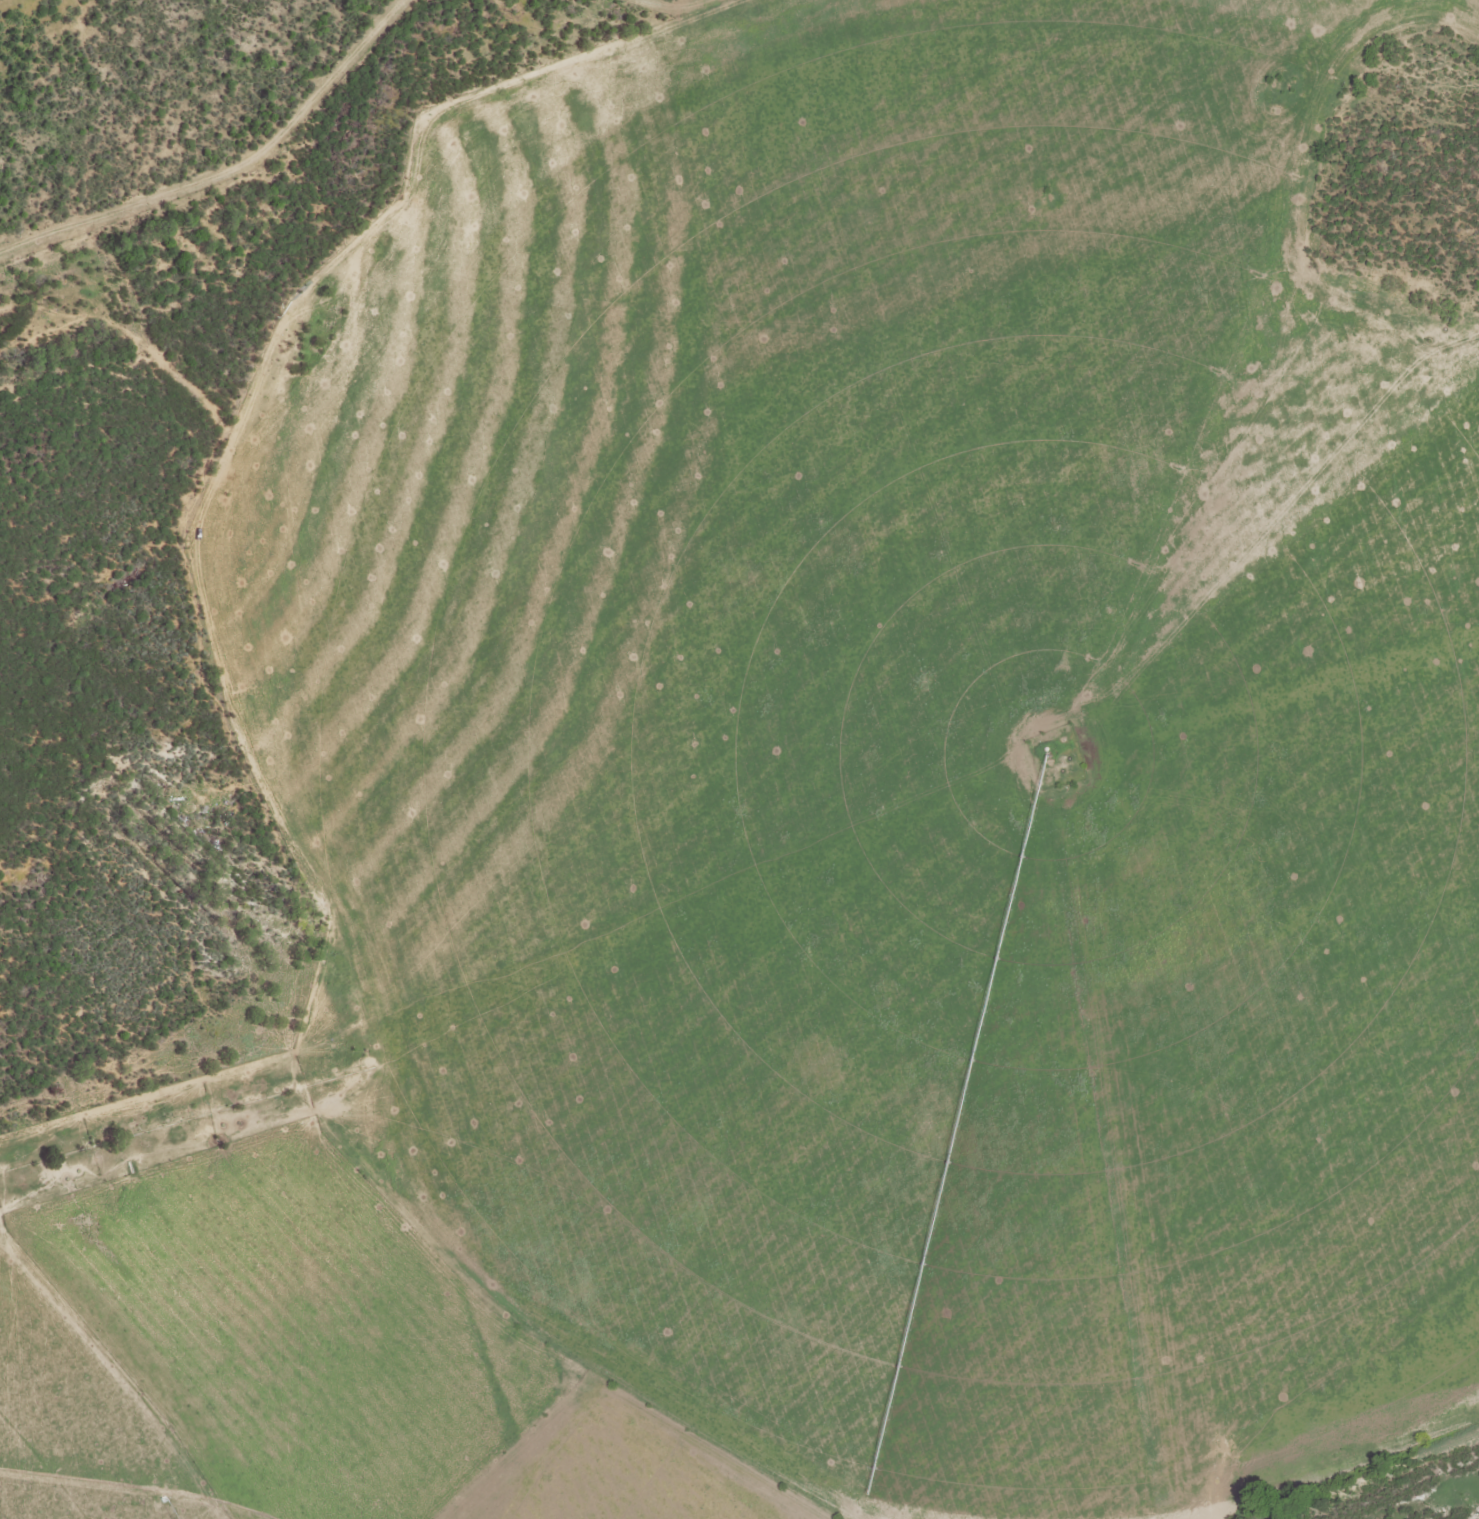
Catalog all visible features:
road: (684, 15)
road: (234, 171)

